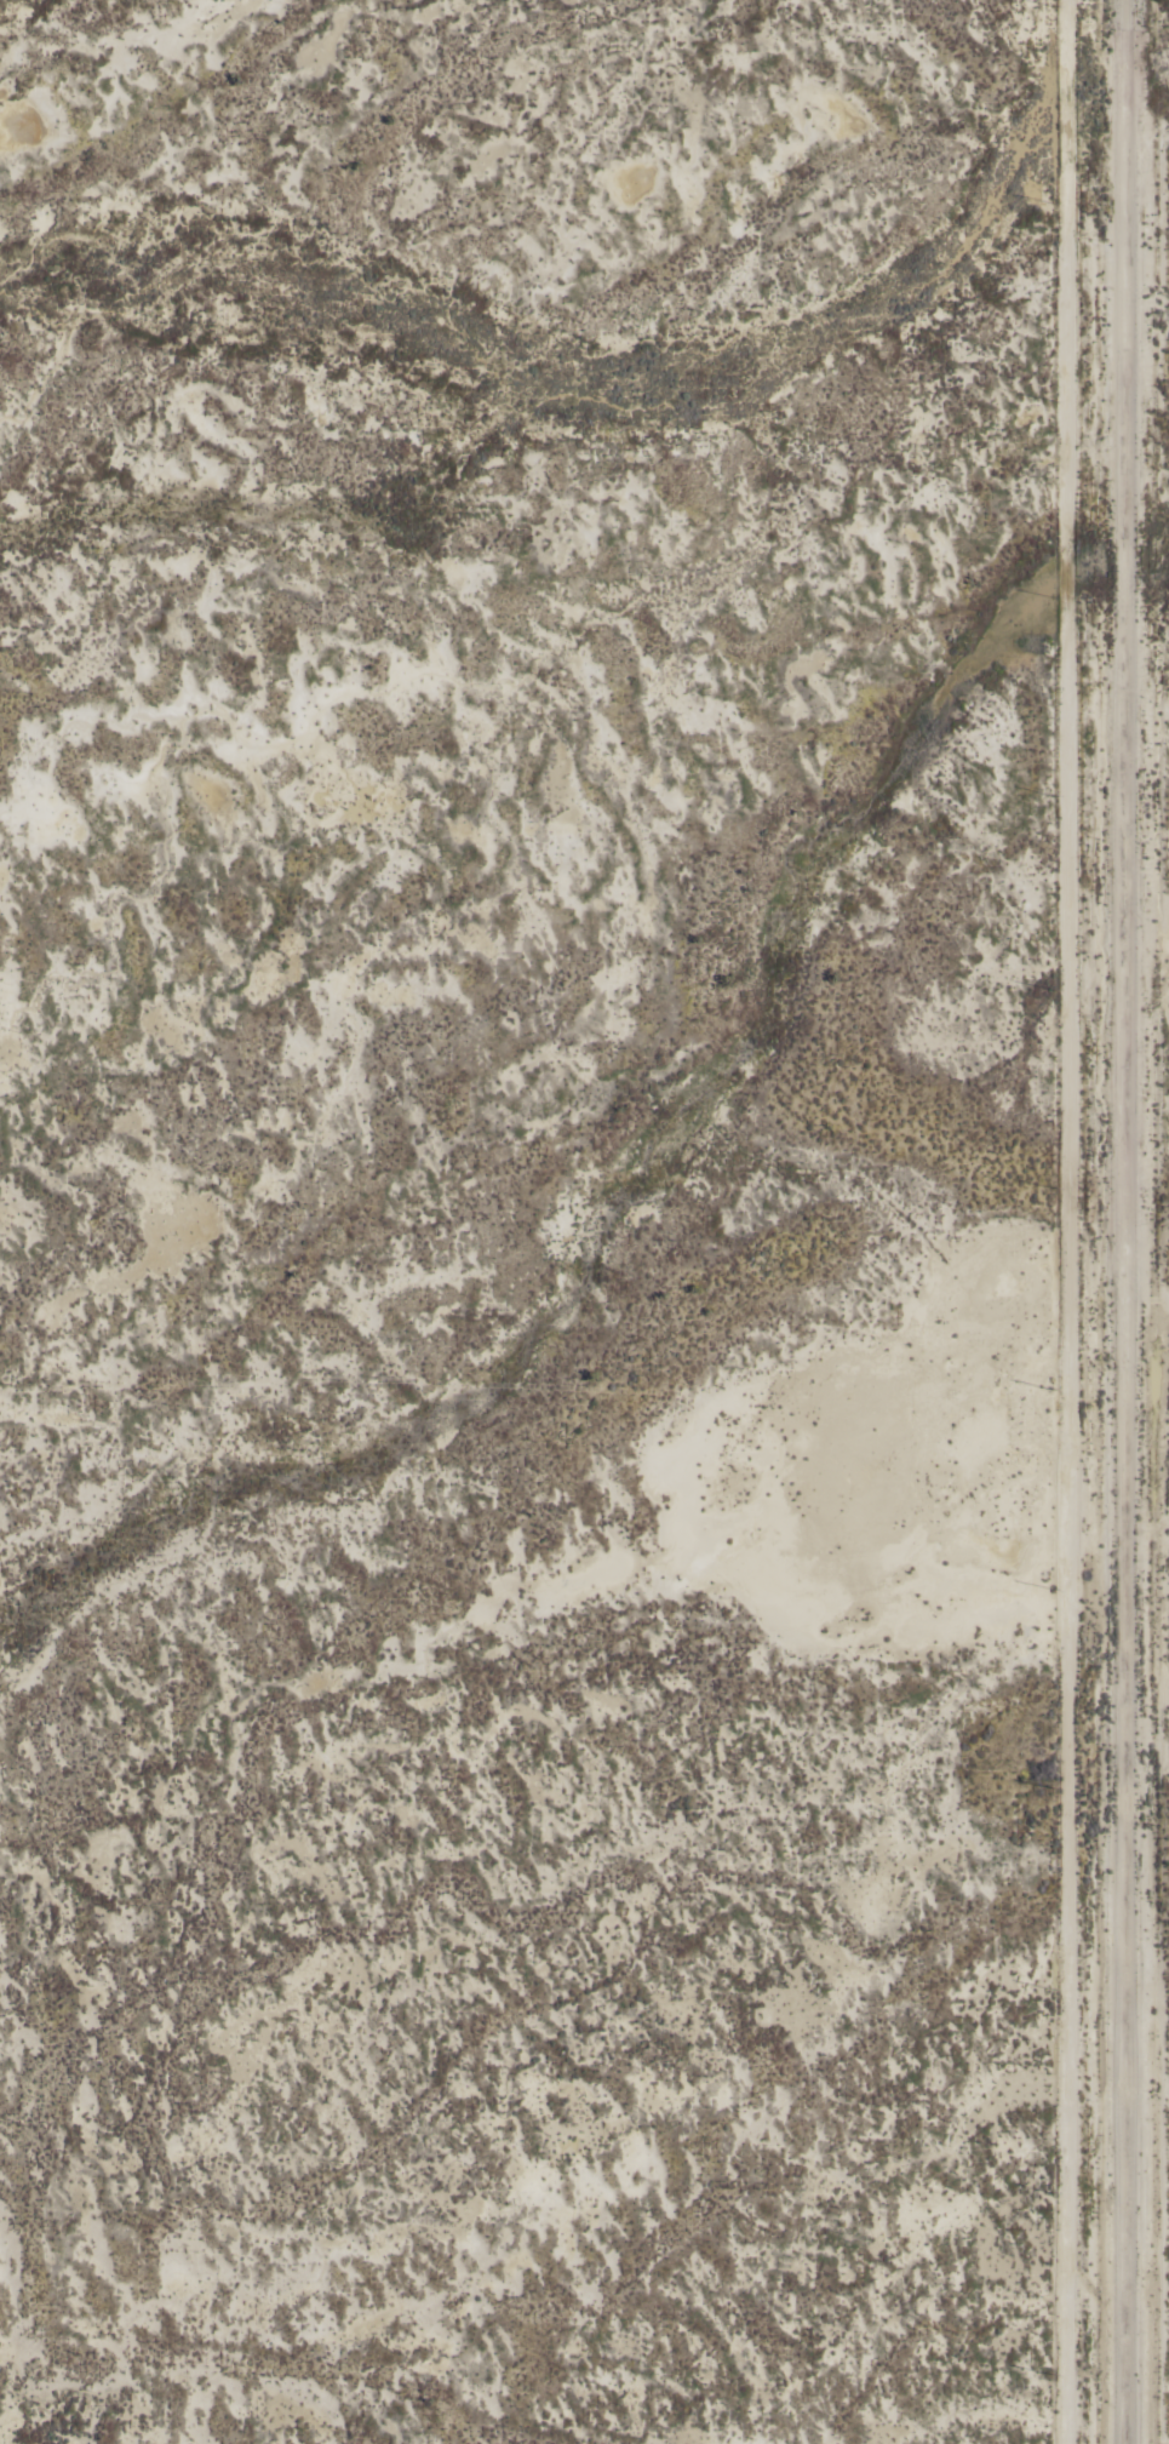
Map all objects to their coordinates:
road: (1056, 1221)
road: (1128, 1221)

